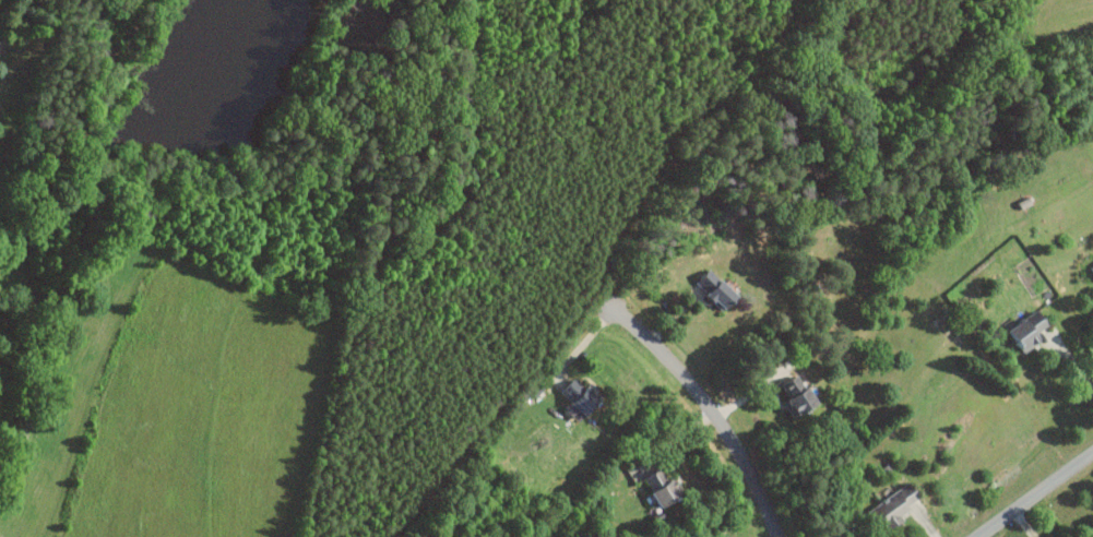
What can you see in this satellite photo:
building: (1090, 271)
building: (718, 289)
building: (1033, 329)
road: (1070, 357)
building: (799, 396)
road: (708, 410)
building: (665, 488)
road: (1037, 497)
building: (895, 508)
road: (1025, 525)

